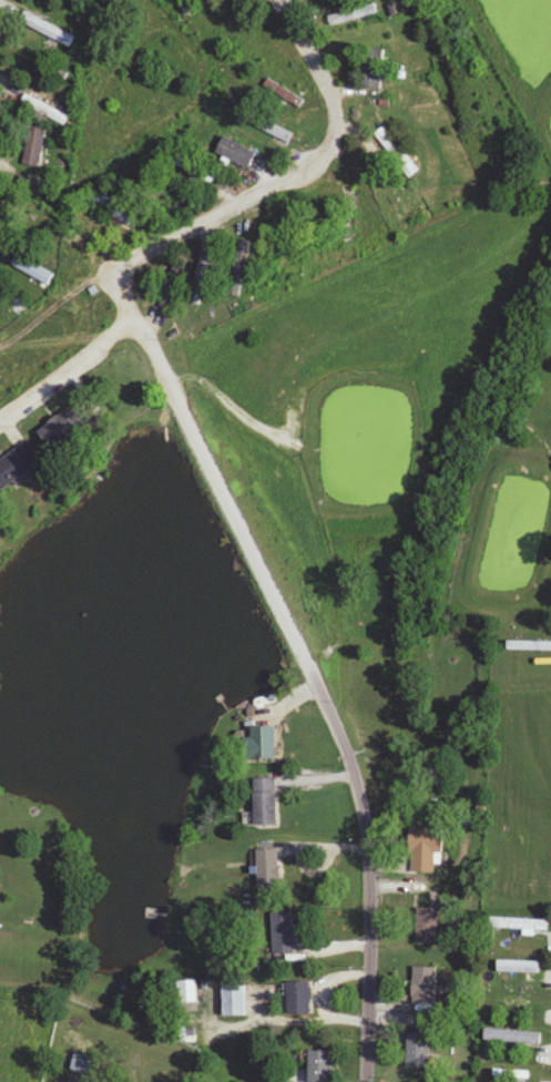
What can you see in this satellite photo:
building: (54, 0)
building: (353, 14)
building: (224, 25)
building: (373, 62)
building: (283, 94)
building: (44, 111)
building: (267, 126)
building: (34, 147)
building: (236, 153)
building: (398, 153)
building: (194, 171)
road: (273, 187)
building: (354, 201)
building: (115, 208)
building: (277, 256)
building: (34, 272)
building: (173, 286)
road: (65, 371)
building: (65, 428)
building: (18, 465)
road: (317, 683)
building: (266, 743)
building: (267, 802)
building: (426, 851)
building: (269, 868)
building: (428, 926)
building: (284, 932)
building: (424, 986)
building: (186, 992)
building: (300, 998)
building: (234, 1001)
building: (417, 1051)
building: (83, 1064)
building: (322, 1066)

